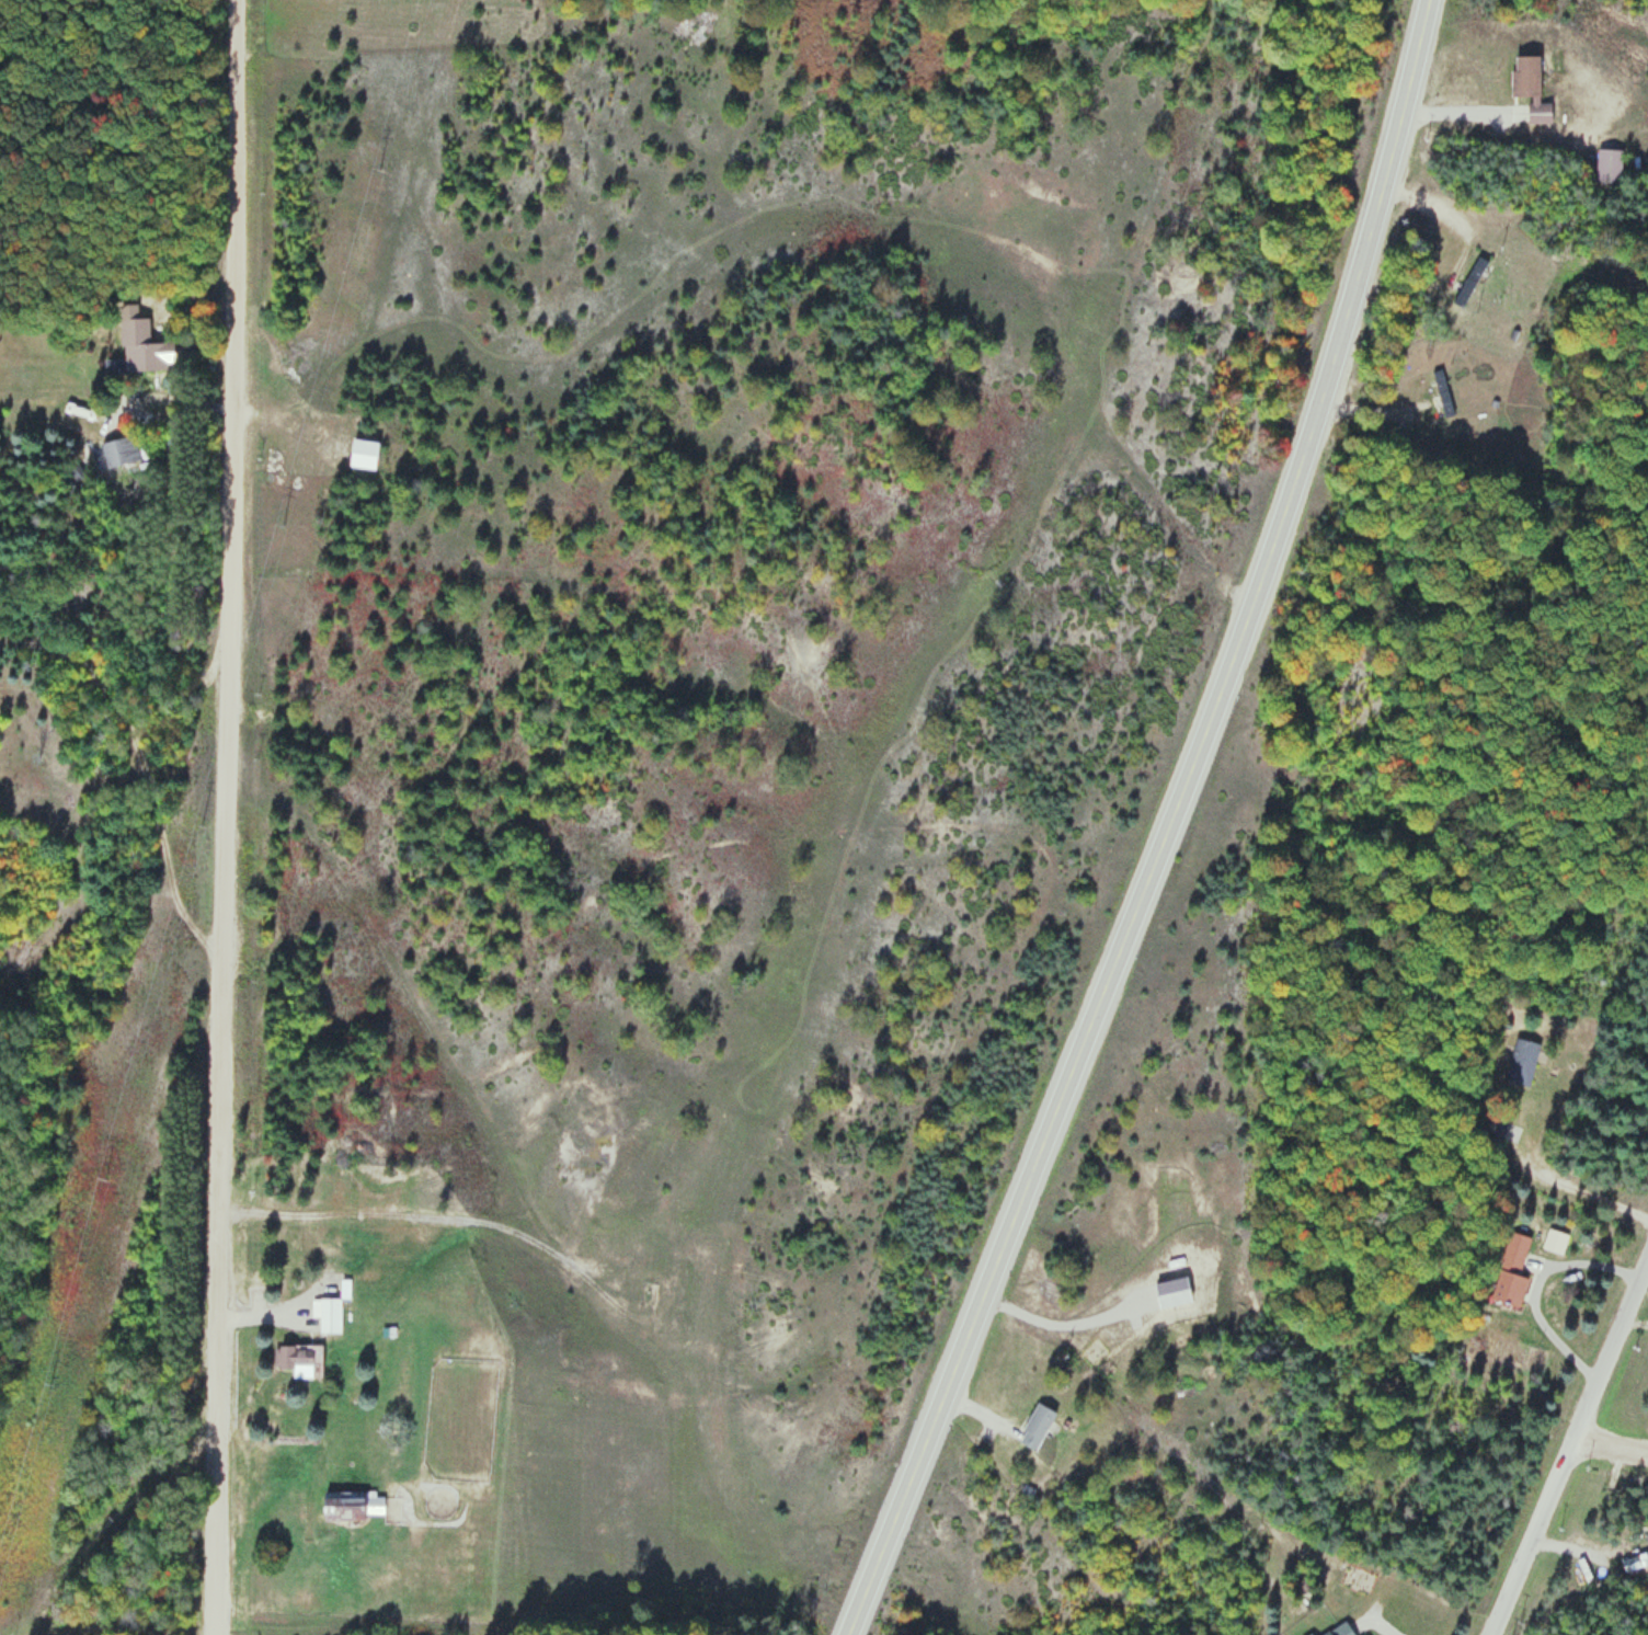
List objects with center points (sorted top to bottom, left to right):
building: (1530, 88)
building: (1609, 165)
building: (1470, 282)
building: (133, 346)
building: (1442, 392)
building: (121, 451)
building: (364, 454)
road: (228, 817)
road: (1166, 827)
building: (1522, 1061)
building: (1495, 1125)
building: (1555, 1240)
building: (1511, 1270)
building: (330, 1315)
building: (297, 1356)
building: (1035, 1427)
road: (1571, 1442)
road: (1609, 1450)
building: (343, 1506)
building: (1635, 1562)
building: (1340, 1630)
building: (1312, 1634)

